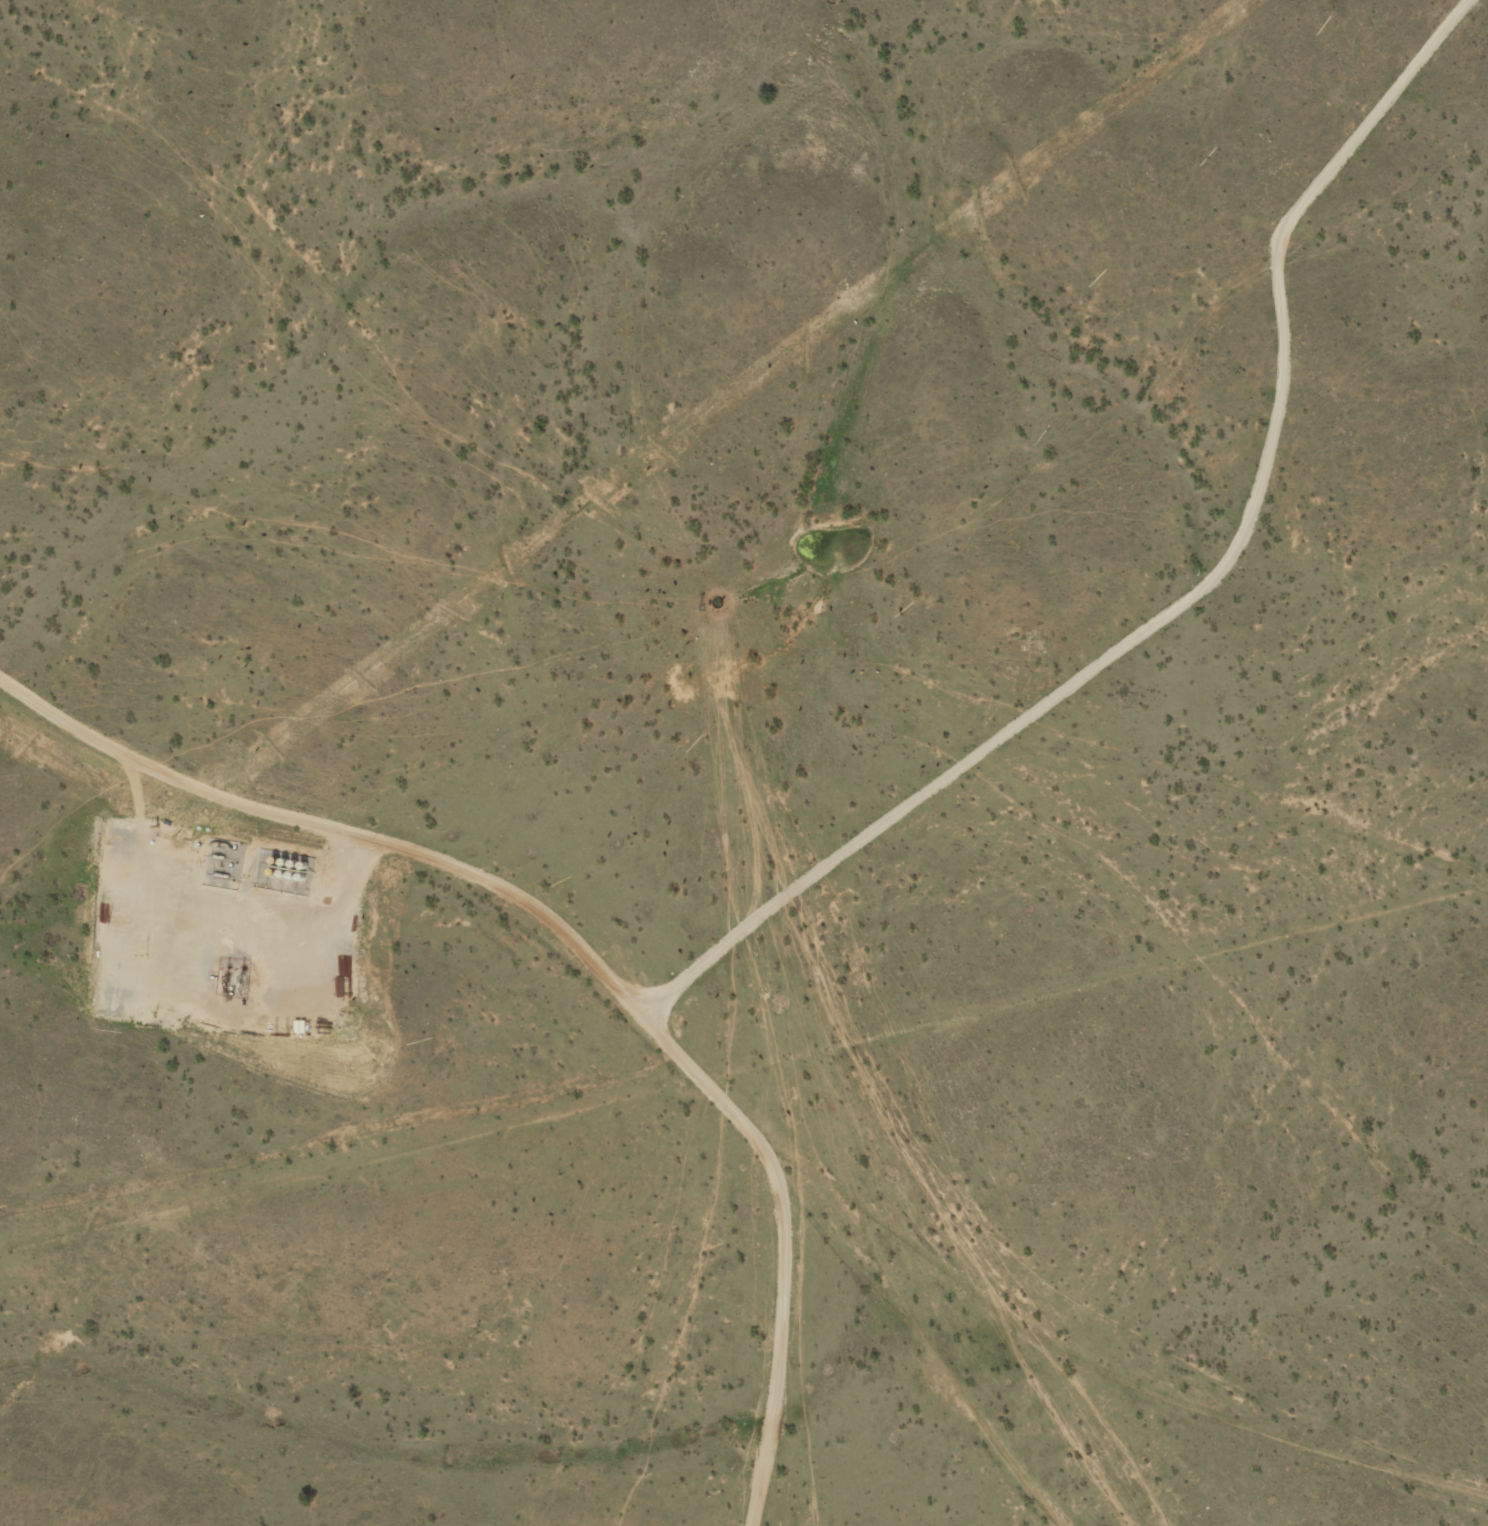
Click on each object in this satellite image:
road: (581, 1012)
road: (1131, 1295)

